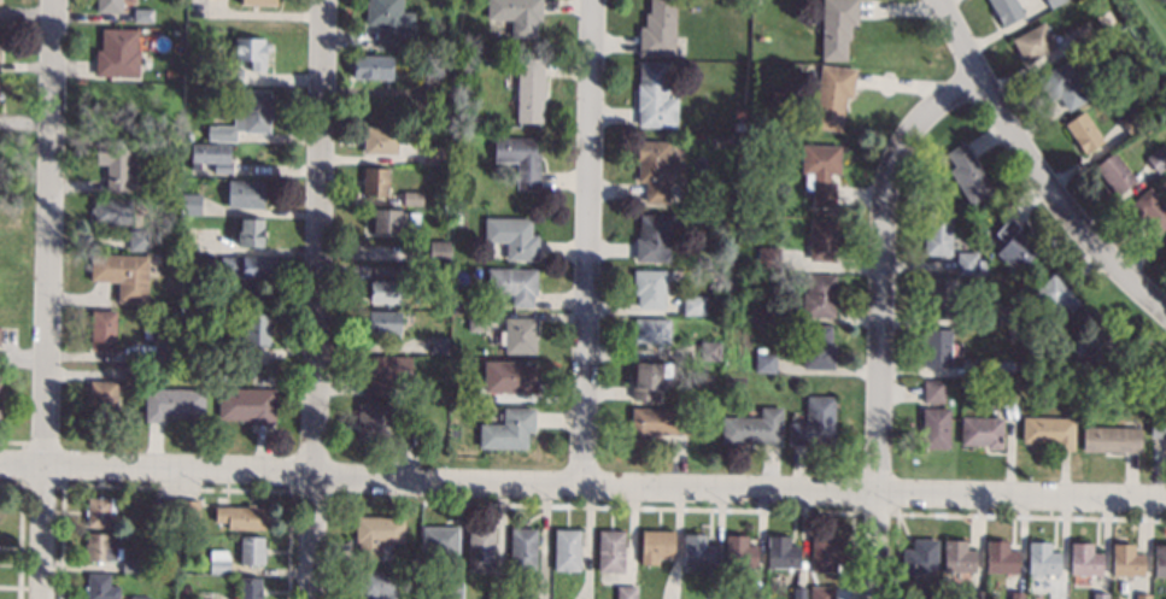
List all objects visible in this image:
building: (258, 2)
building: (1053, 2)
building: (109, 6)
building: (1006, 11)
building: (143, 14)
building: (516, 14)
building: (388, 22)
building: (836, 28)
building: (657, 29)
building: (147, 31)
building: (1082, 34)
building: (1032, 42)
building: (461, 43)
building: (440, 46)
building: (251, 52)
building: (117, 53)
building: (371, 67)
building: (433, 67)
building: (228, 76)
building: (1062, 84)
building: (529, 90)
building: (832, 95)
building: (655, 96)
building: (246, 117)
building: (1130, 121)
building: (1083, 133)
building: (187, 136)
building: (381, 140)
building: (146, 149)
building: (433, 155)
building: (211, 157)
building: (1158, 158)
building: (518, 159)
building: (113, 165)
building: (654, 170)
road: (1033, 170)
building: (820, 172)
building: (967, 174)
building: (1114, 174)
building: (453, 176)
building: (375, 181)
building: (246, 194)
building: (936, 196)
building: (412, 199)
building: (191, 204)
building: (172, 209)
building: (1149, 210)
building: (111, 211)
building: (456, 218)
building: (392, 219)
building: (250, 233)
building: (937, 233)
road: (46, 235)
building: (187, 236)
building: (512, 236)
building: (654, 237)
building: (139, 240)
building: (821, 240)
road: (592, 241)
building: (1013, 245)
building: (1165, 247)
building: (439, 252)
building: (767, 257)
building: (969, 263)
building: (246, 266)
building: (404, 270)
building: (122, 275)
building: (514, 284)
building: (649, 288)
building: (385, 292)
building: (1056, 294)
building: (203, 295)
building: (818, 295)
building: (943, 298)
road: (318, 299)
building: (457, 304)
building: (692, 305)
building: (758, 312)
building: (1007, 316)
road: (883, 318)
building: (382, 322)
building: (477, 322)
building: (257, 330)
building: (651, 330)
building: (709, 330)
building: (102, 331)
building: (1025, 331)
building: (520, 335)
building: (1096, 342)
building: (438, 345)
building: (816, 347)
building: (937, 347)
building: (166, 348)
building: (709, 351)
road: (22, 358)
building: (764, 363)
building: (985, 366)
building: (1084, 369)
building: (1050, 370)
building: (383, 375)
building: (133, 376)
building: (509, 377)
building: (645, 381)
building: (933, 390)
building: (1006, 390)
building: (464, 394)
building: (102, 403)
building: (171, 404)
building: (1086, 404)
building: (246, 405)
building: (655, 423)
building: (814, 423)
building: (380, 425)
building: (1158, 425)
building: (752, 428)
building: (934, 428)
building: (509, 429)
building: (982, 431)
building: (1049, 431)
building: (1112, 440)
road: (158, 474)
road: (740, 486)
building: (168, 509)
building: (187, 510)
building: (99, 511)
building: (241, 517)
road: (39, 534)
building: (376, 534)
building: (439, 541)
building: (655, 546)
building: (100, 548)
building: (523, 548)
building: (480, 550)
building: (567, 550)
building: (251, 551)
building: (610, 551)
building: (739, 552)
building: (697, 553)
building: (781, 553)
building: (826, 553)
building: (957, 557)
building: (920, 558)
building: (1000, 558)
building: (1042, 558)
building: (1084, 559)
building: (415, 560)
building: (1125, 560)
building: (1159, 560)
building: (218, 562)
building: (129, 565)
building: (373, 583)
building: (100, 587)
building: (250, 588)
building: (521, 589)
building: (451, 591)
building: (626, 592)
building: (821, 592)
building: (496, 593)
building: (798, 593)
building: (971, 594)
building: (1012, 594)
building: (206, 595)
building: (1100, 595)
building: (1142, 595)
building: (140, 598)

